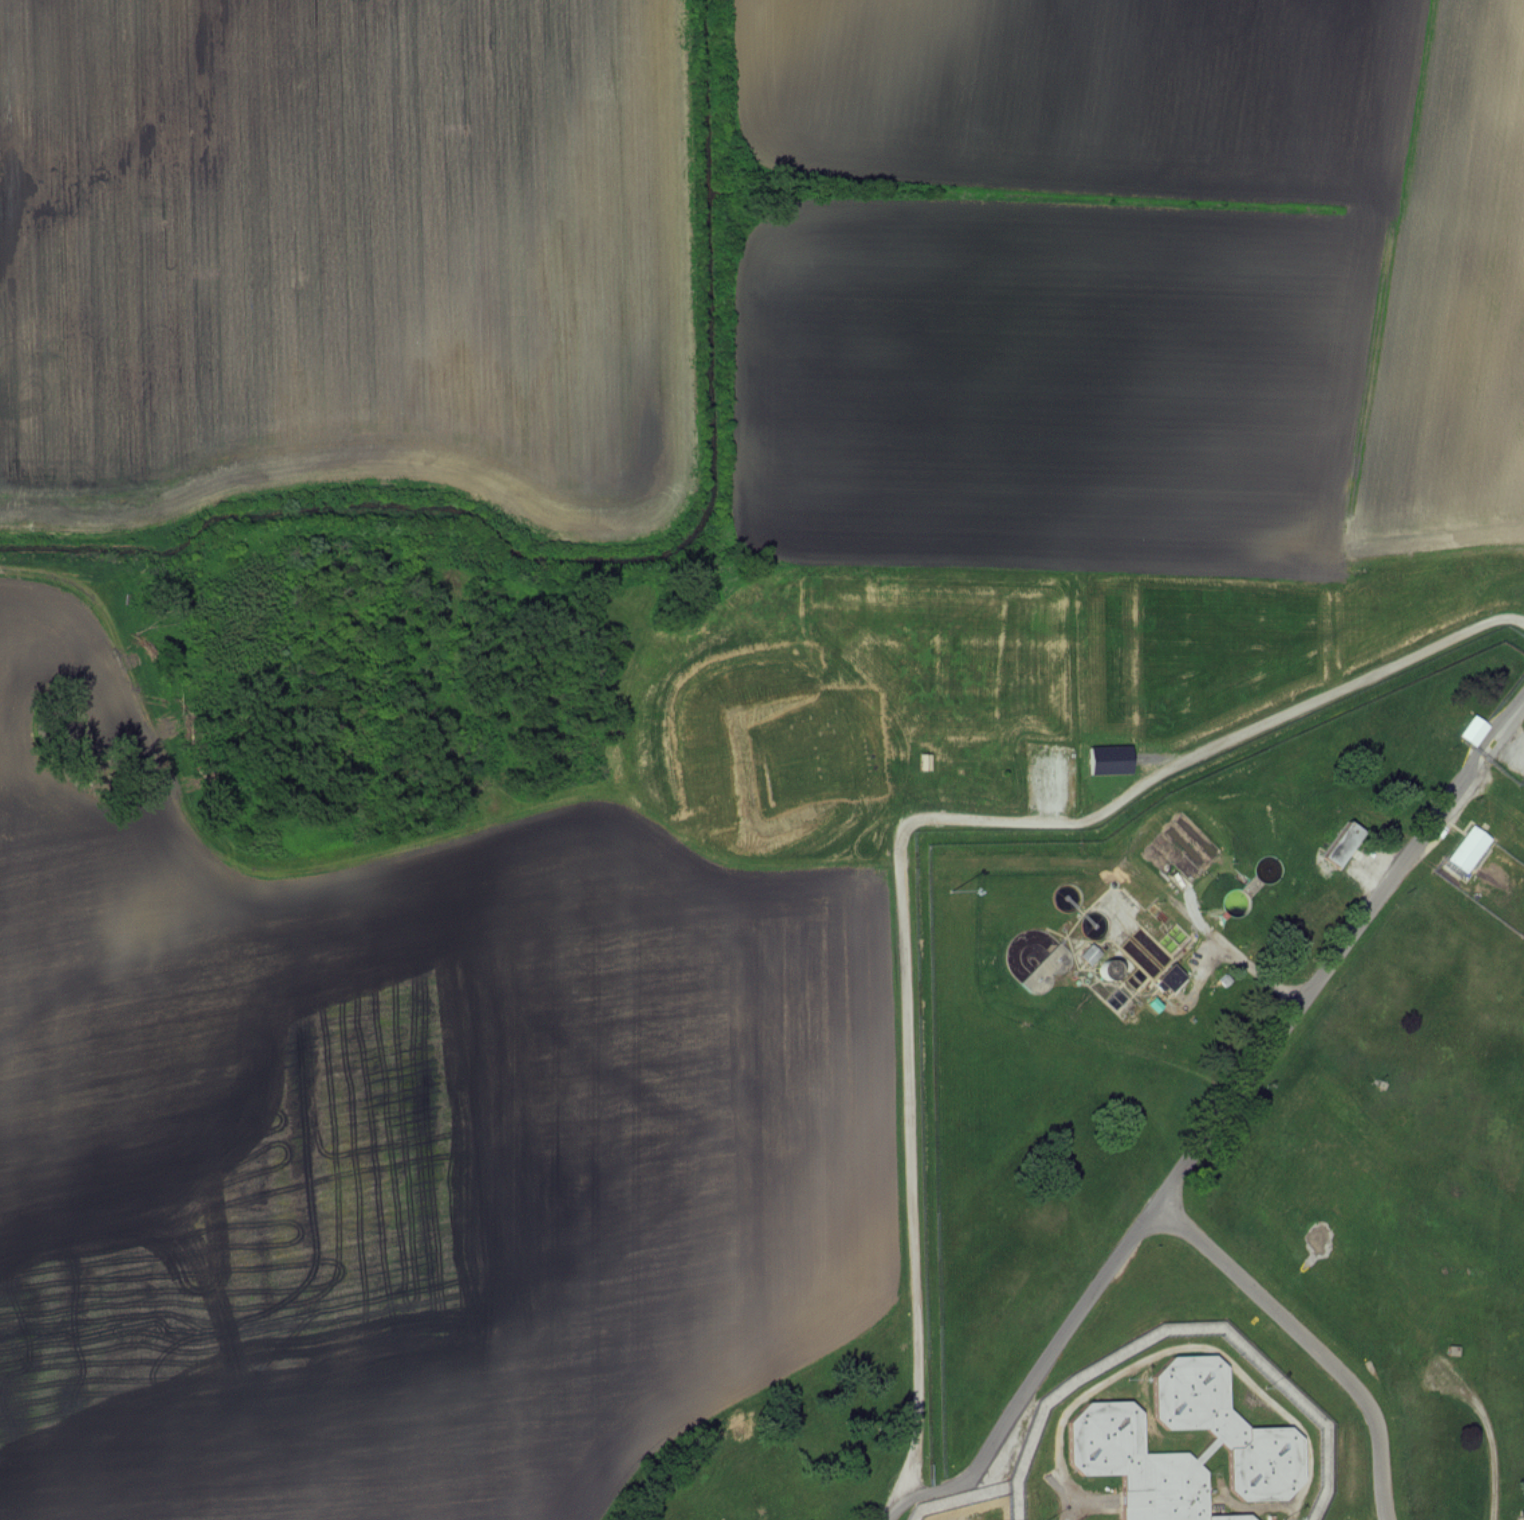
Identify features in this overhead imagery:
building: (1474, 731)
road: (905, 828)
road: (1259, 973)
road: (1219, 1133)
road: (1315, 1345)
building: (1260, 1470)
building: (1144, 1474)

